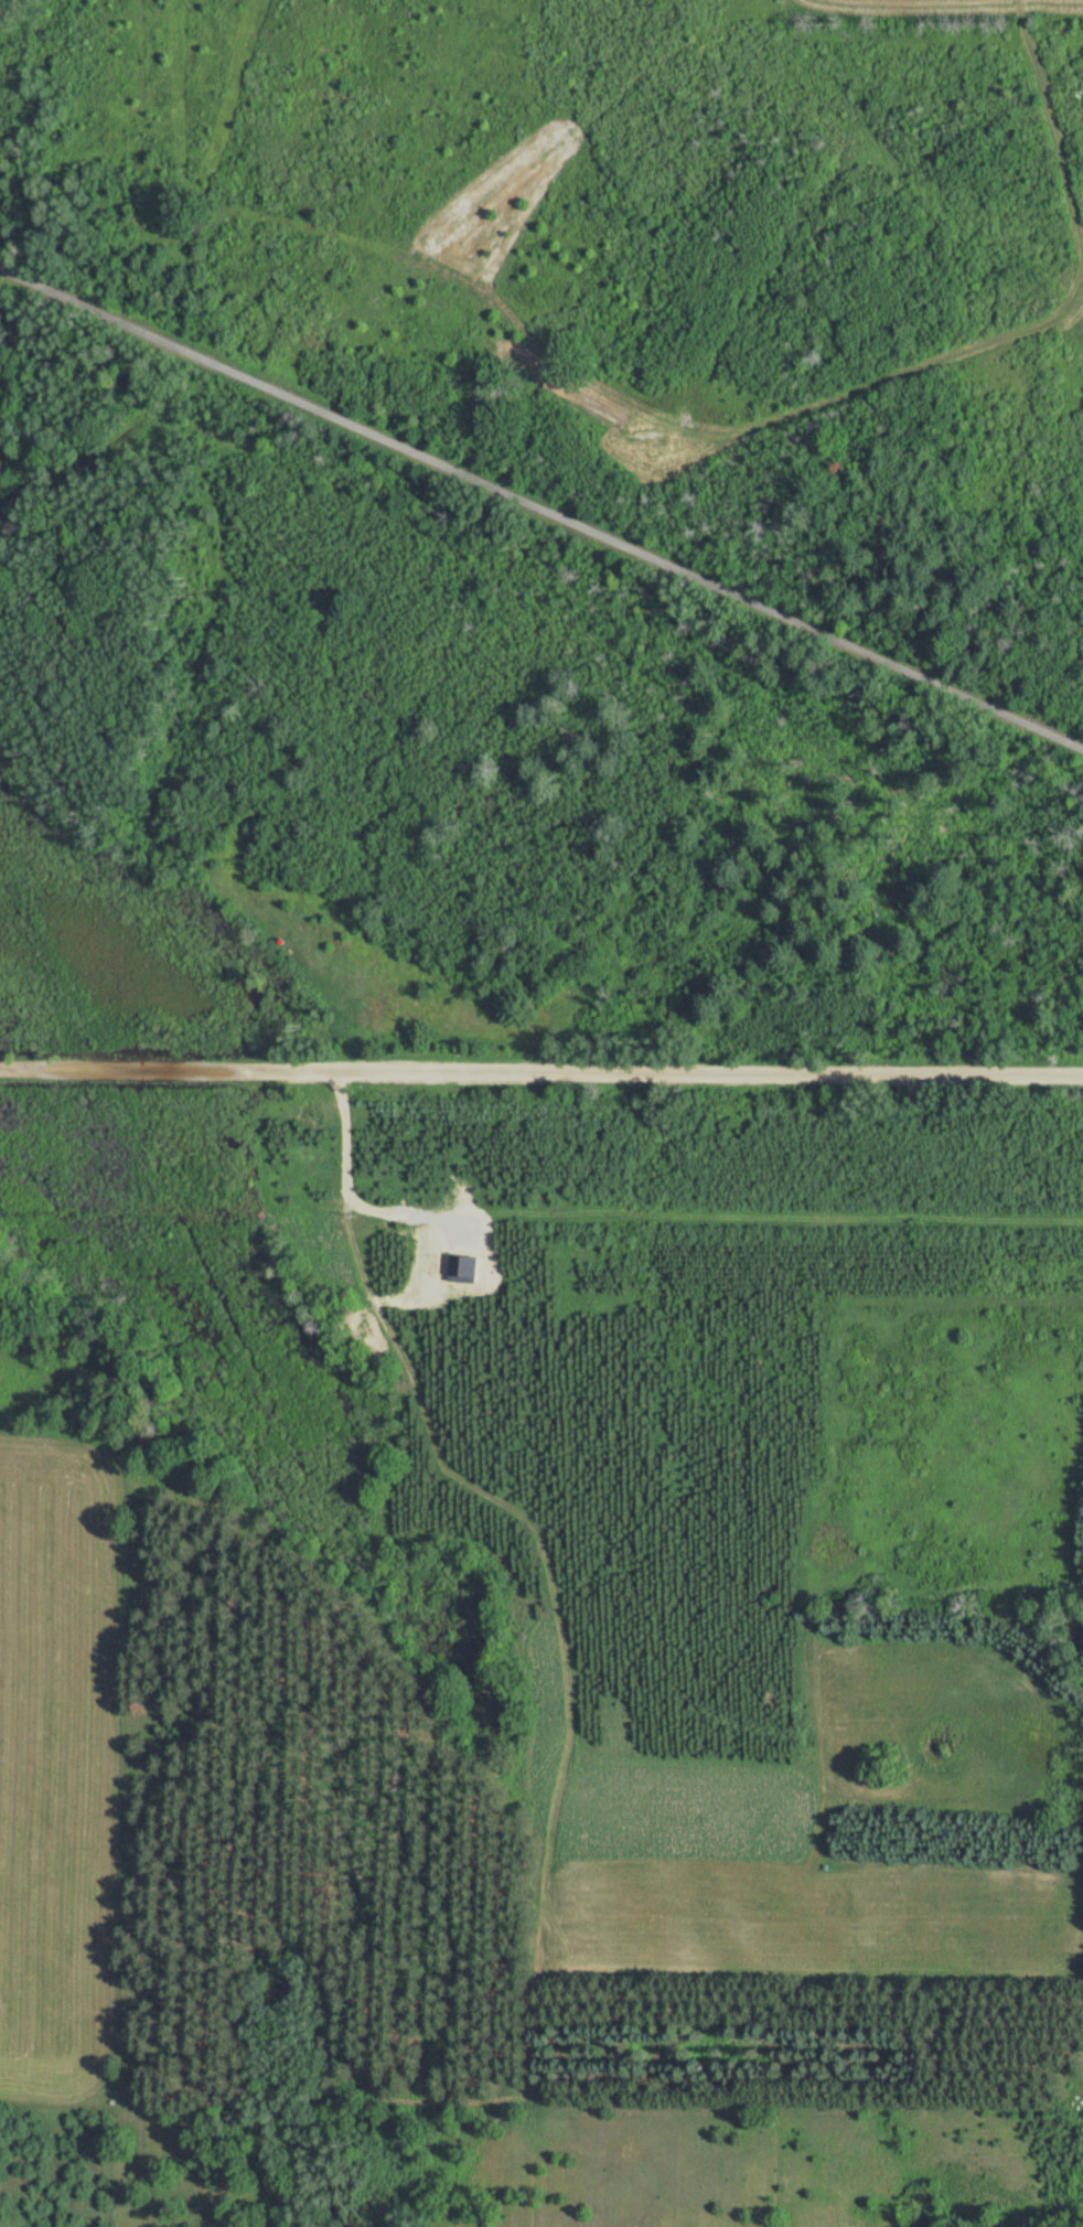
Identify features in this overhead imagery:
road: (986, 356)
road: (540, 508)
road: (541, 1074)

